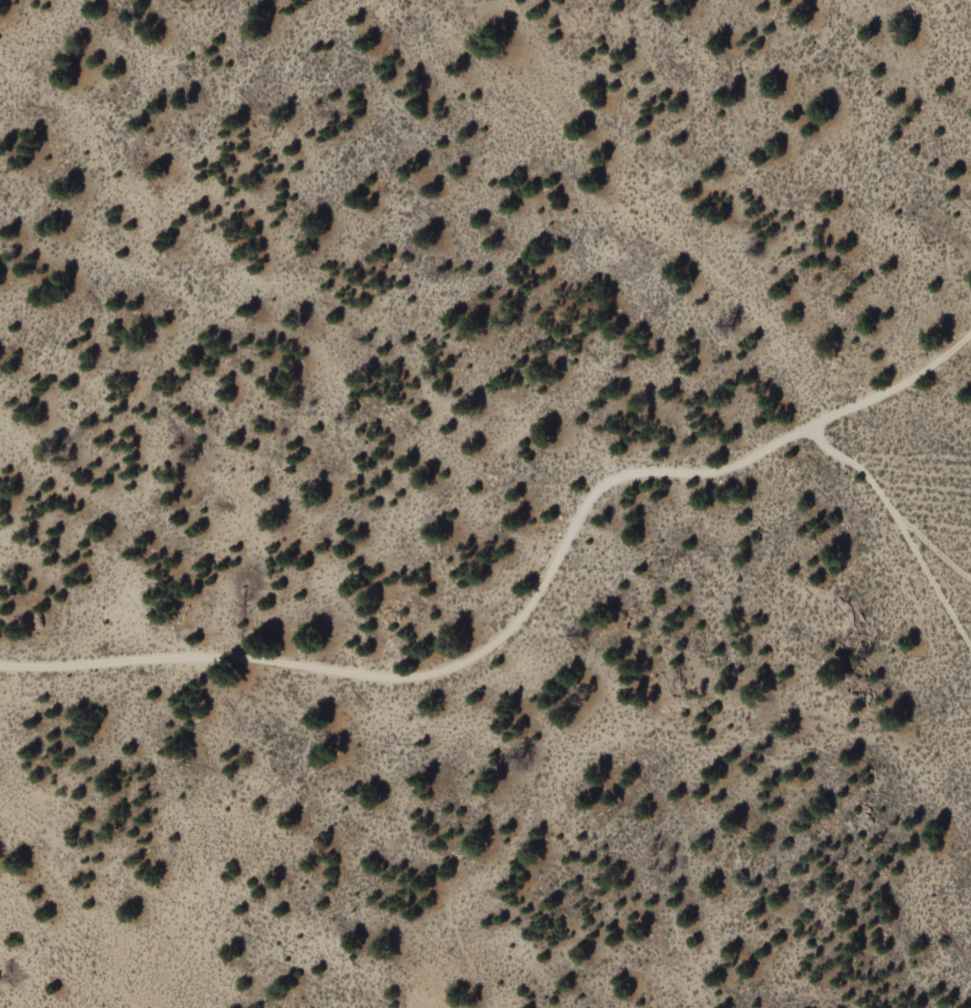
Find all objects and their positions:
road: (721, 272)
road: (936, 581)
road: (531, 621)

